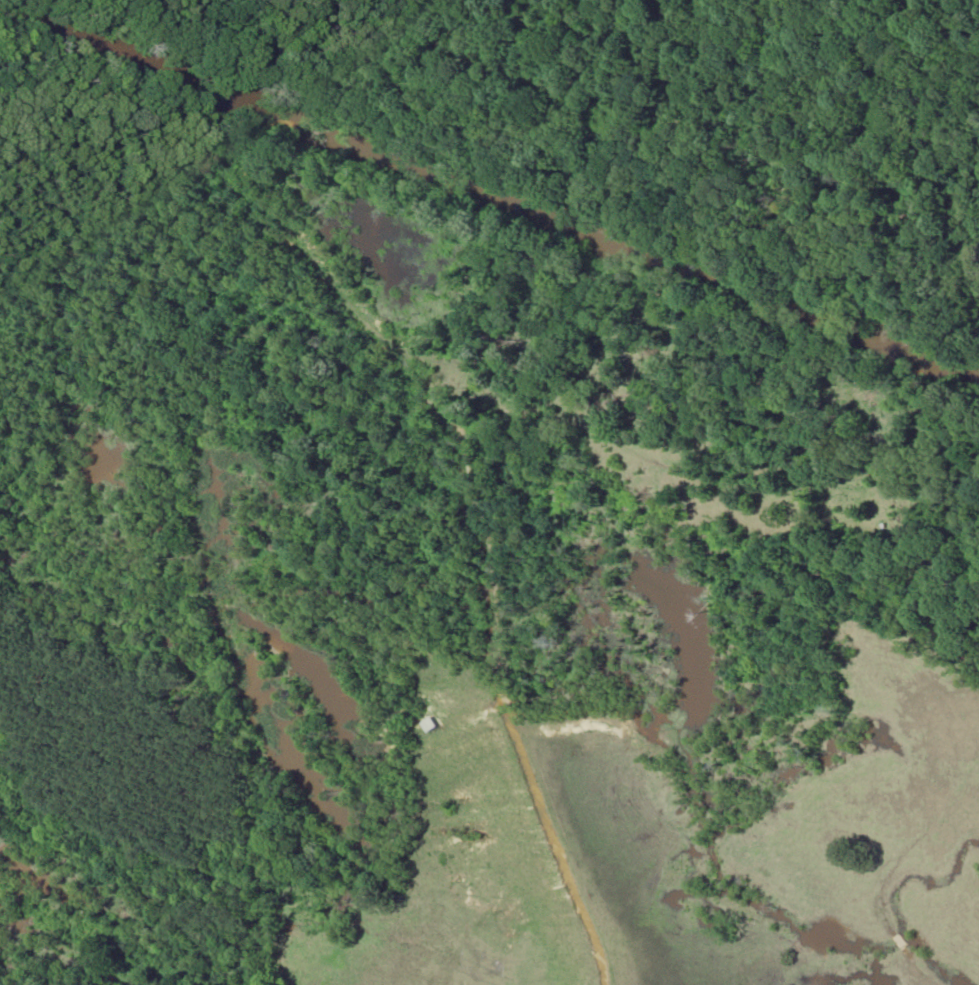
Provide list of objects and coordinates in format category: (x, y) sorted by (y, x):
building: (428, 725)

